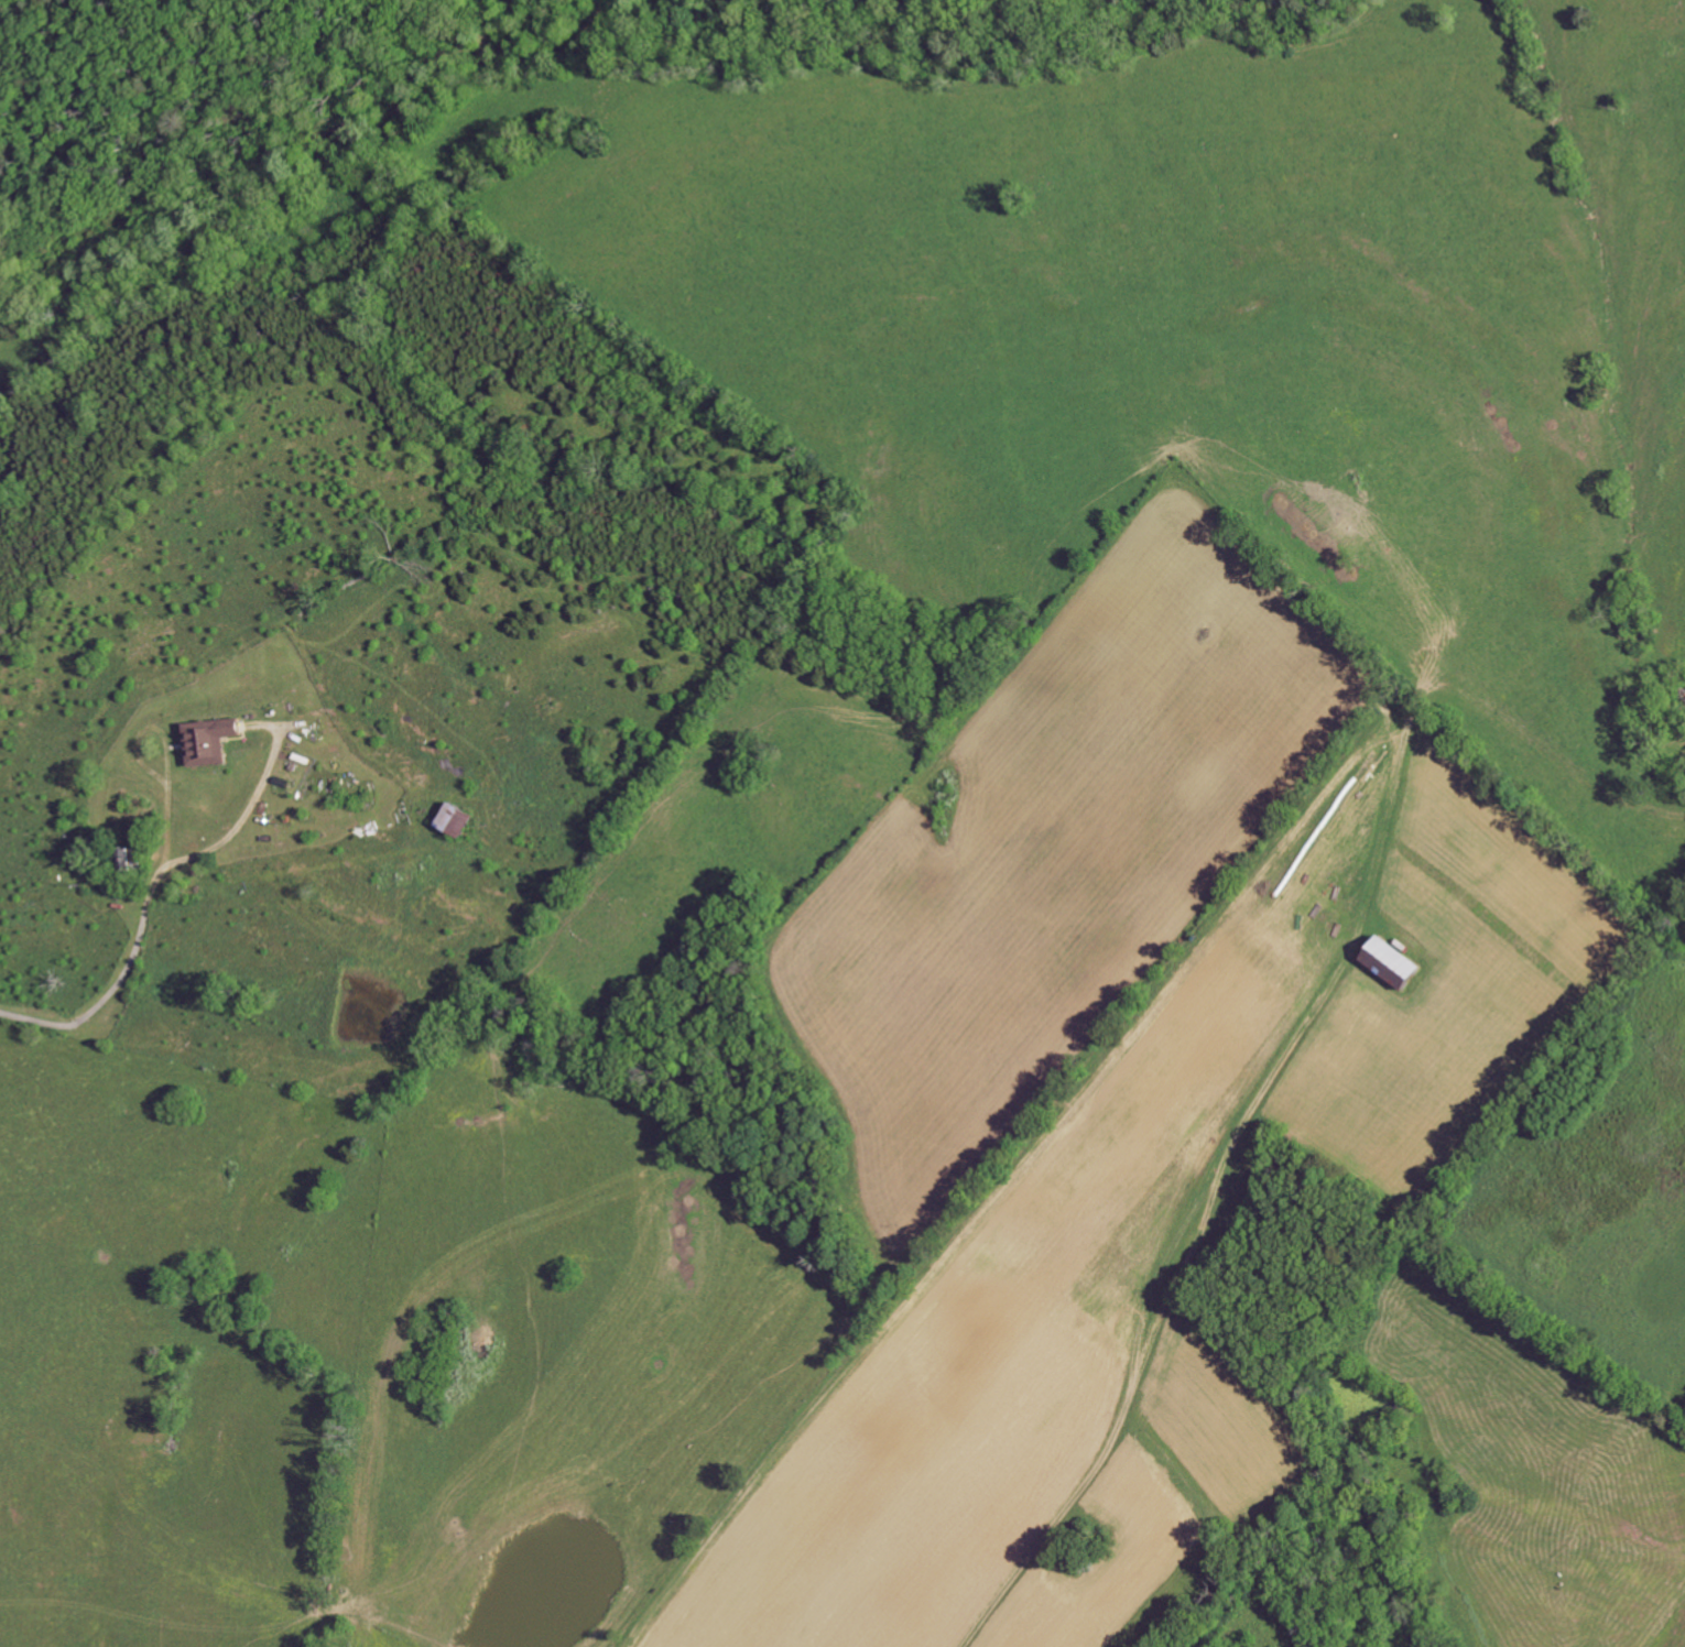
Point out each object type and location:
building: (213, 743)
building: (458, 822)
road: (149, 897)
building: (1395, 966)
road: (1220, 1160)

